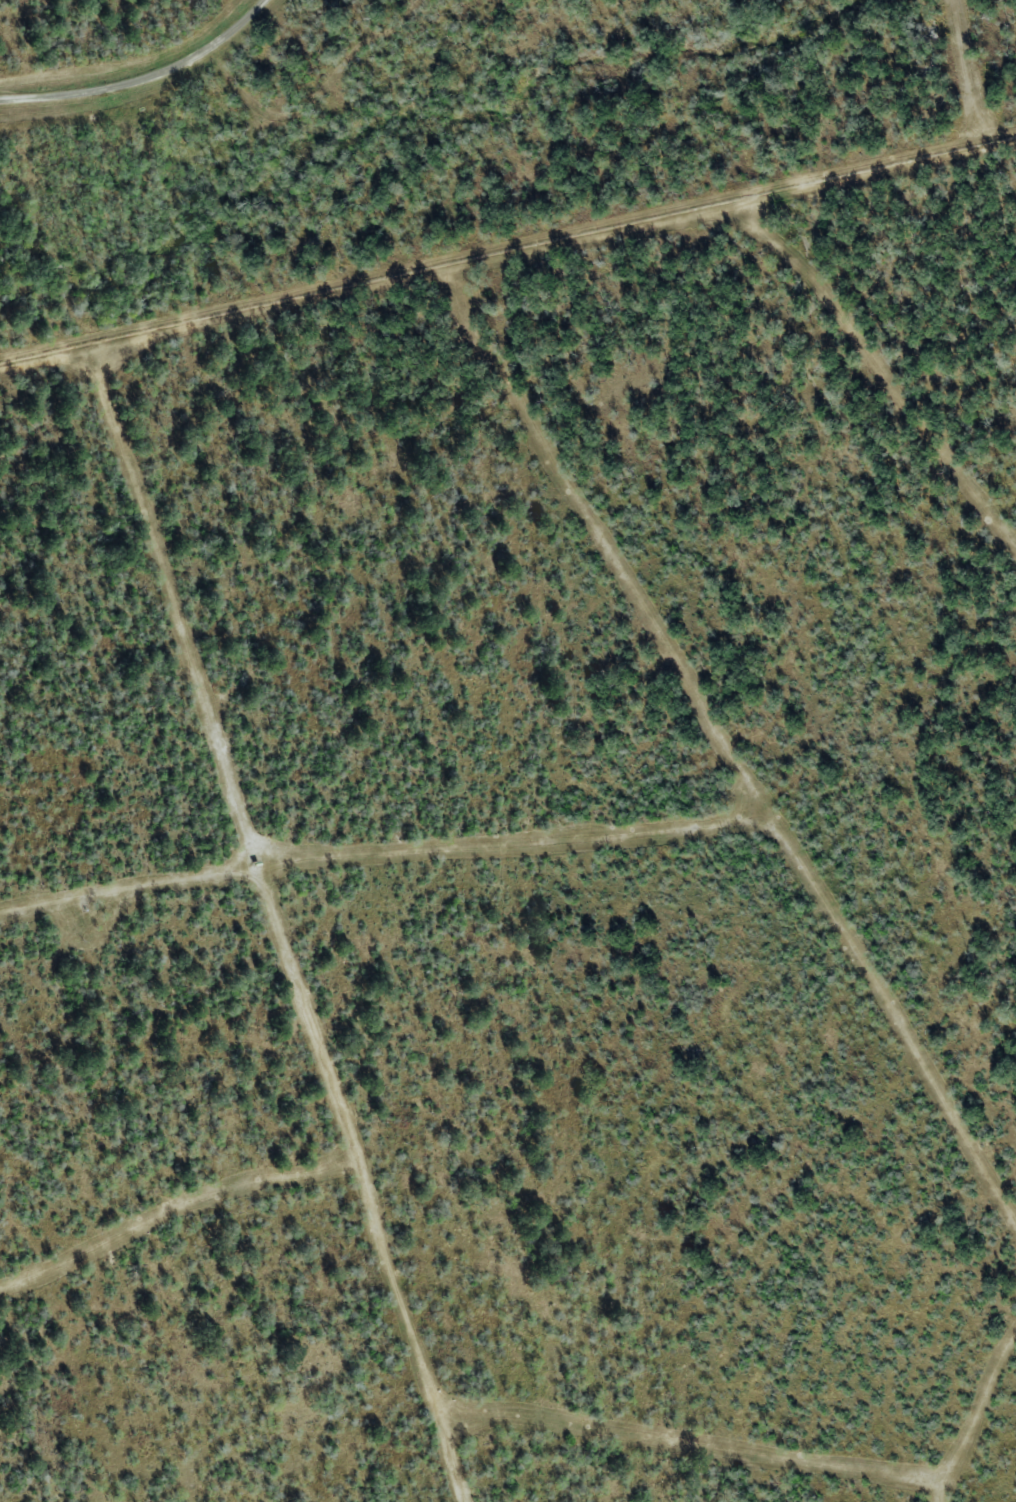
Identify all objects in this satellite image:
road: (142, 75)

